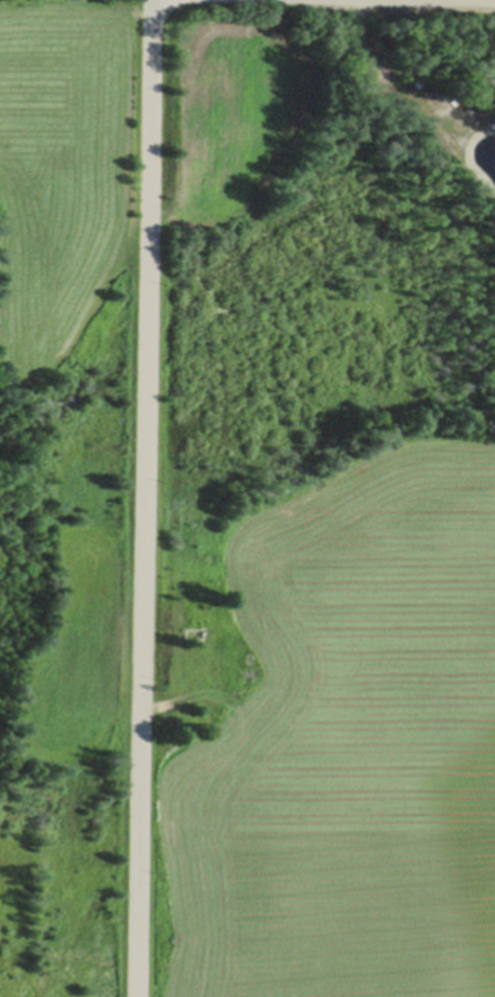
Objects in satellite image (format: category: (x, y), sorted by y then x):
road: (143, 498)

